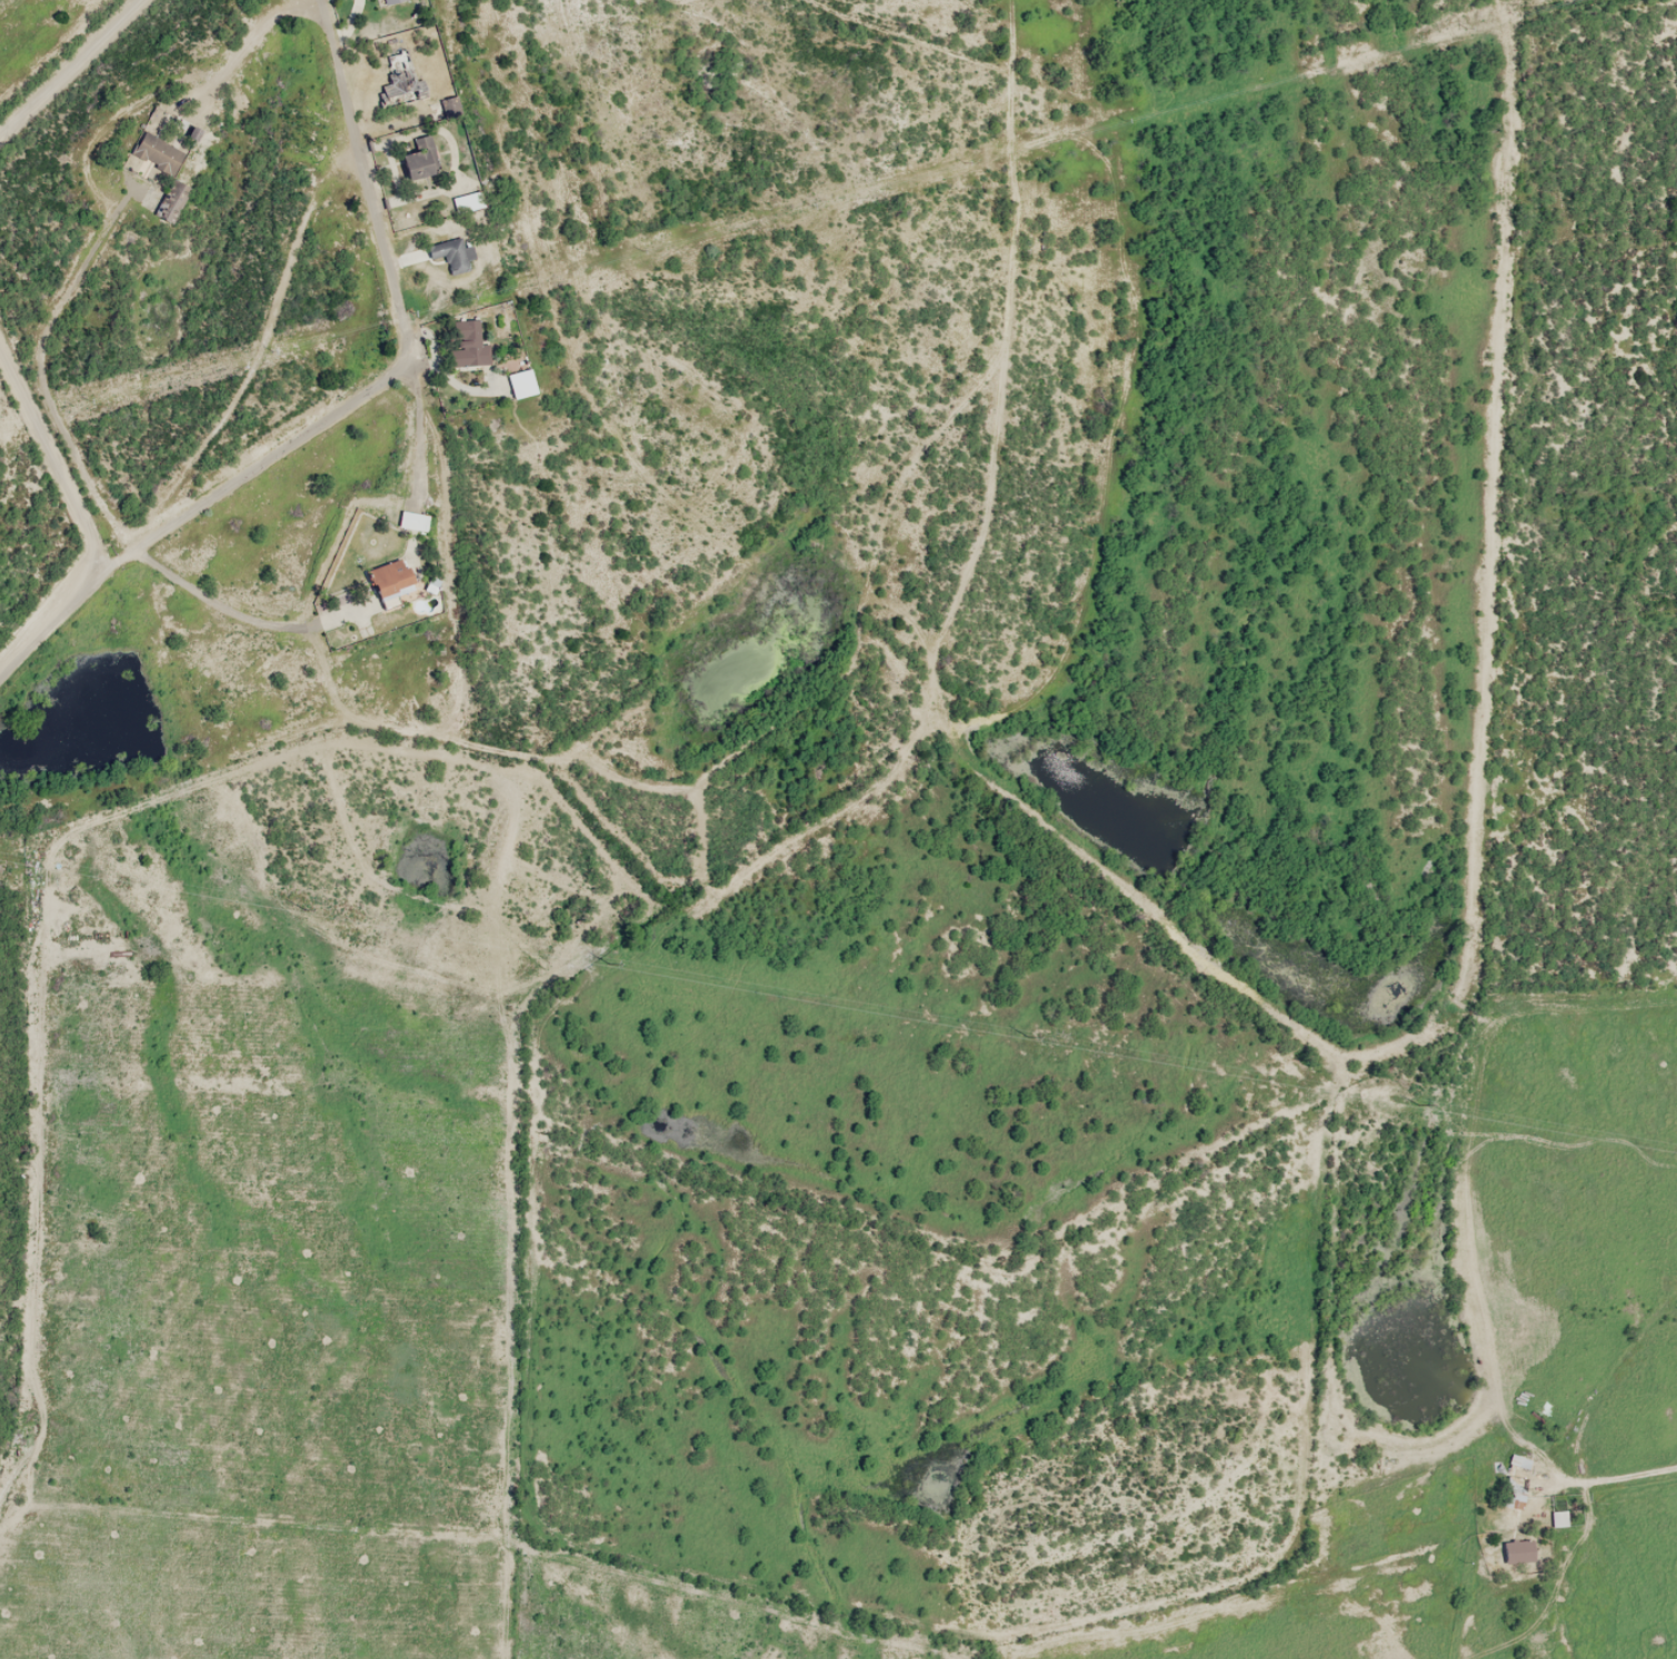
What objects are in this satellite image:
building: (389, 1)
road: (60, 71)
building: (399, 80)
building: (158, 152)
road: (1008, 154)
building: (419, 160)
building: (448, 254)
building: (466, 342)
building: (519, 383)
road: (49, 469)
building: (412, 521)
building: (389, 582)
building: (1558, 1518)
building: (1517, 1551)

